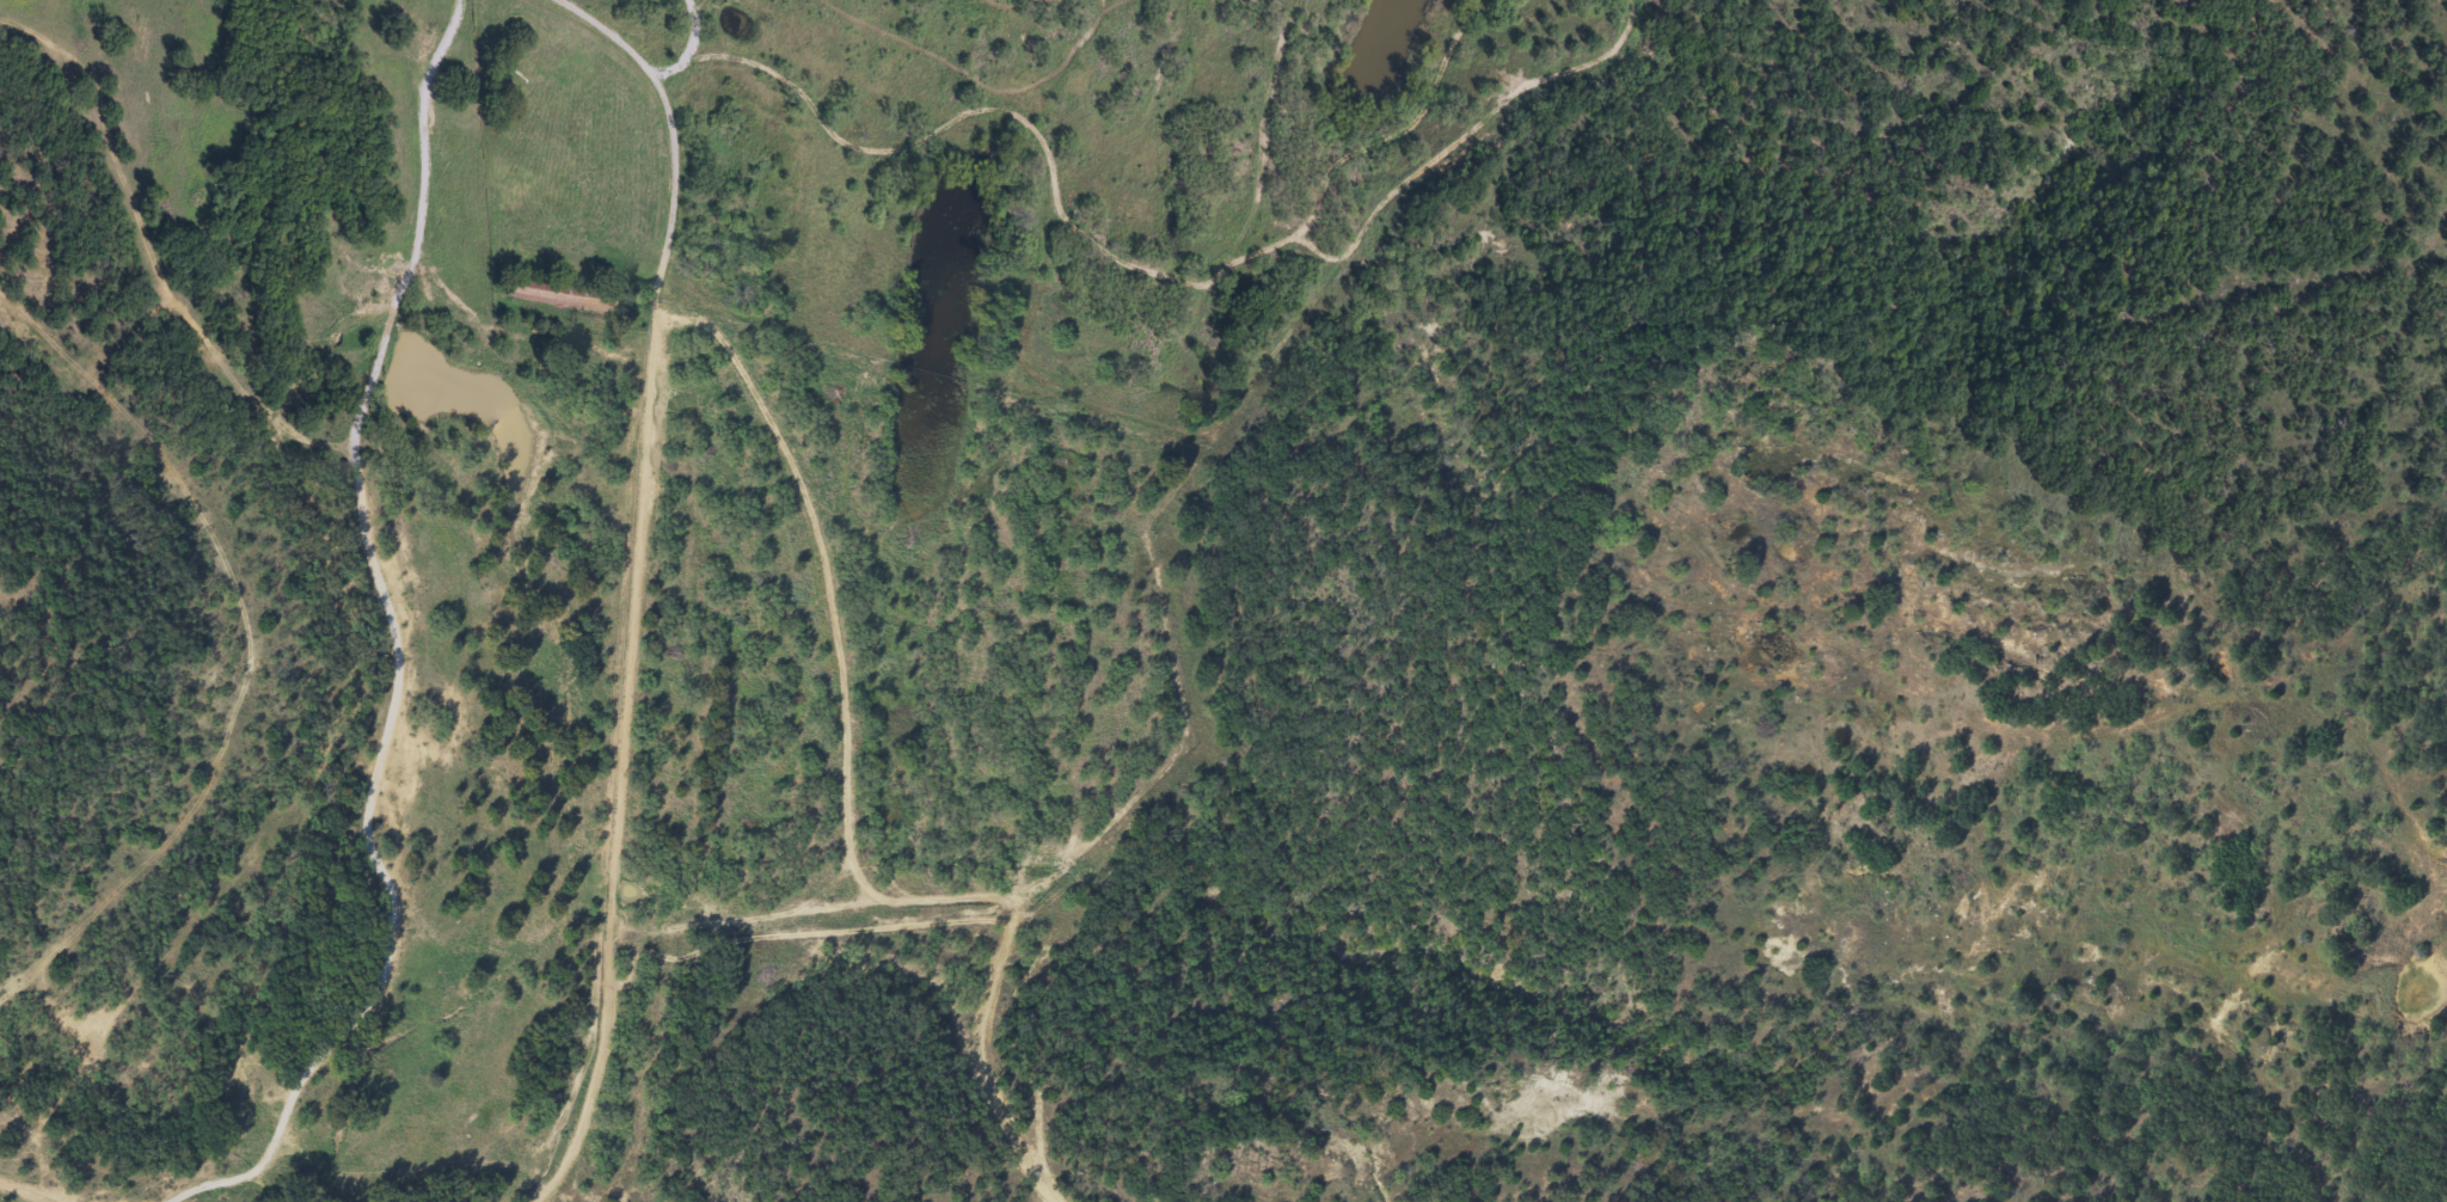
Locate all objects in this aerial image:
road: (596, 17)
road: (484, 249)
road: (836, 630)
road: (627, 760)

